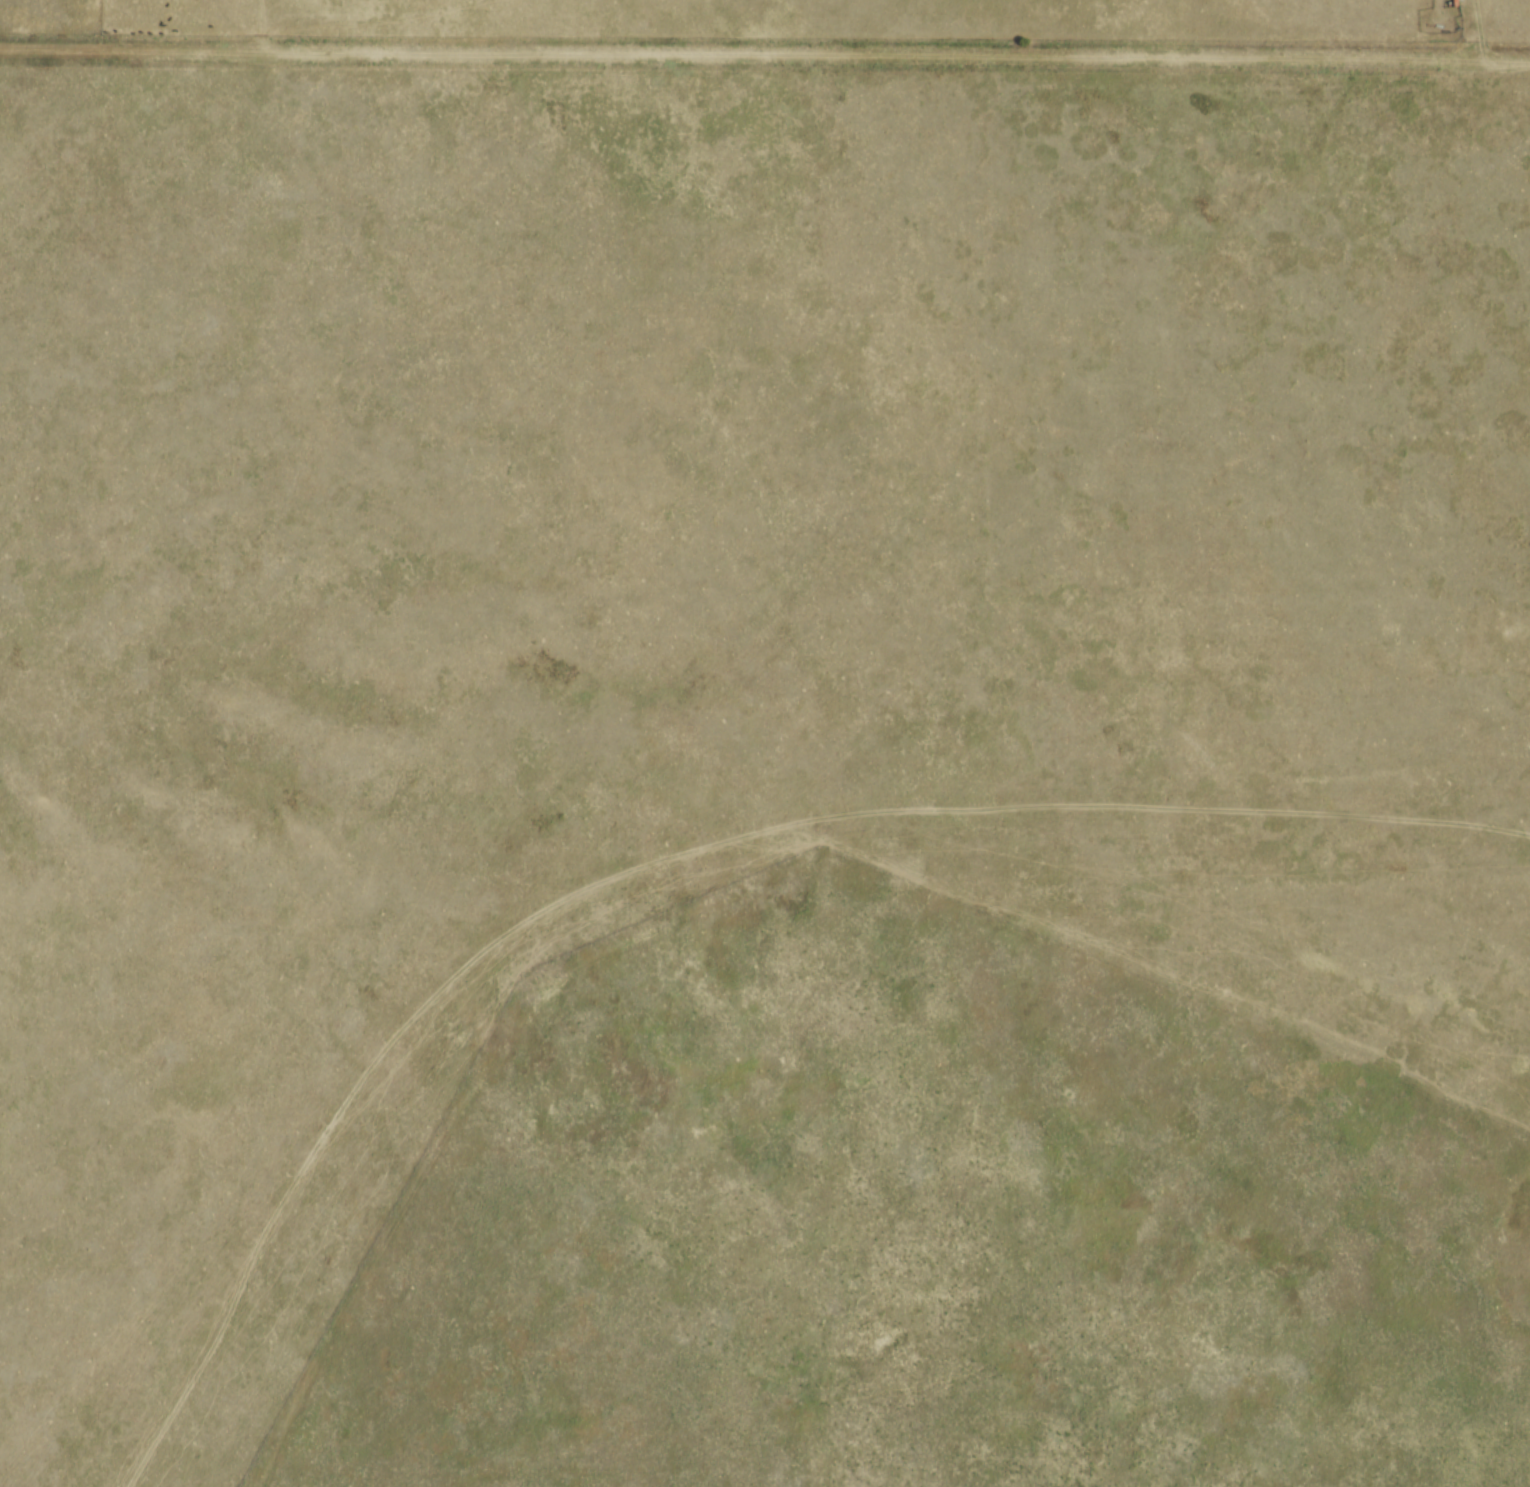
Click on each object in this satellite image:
road: (765, 52)

